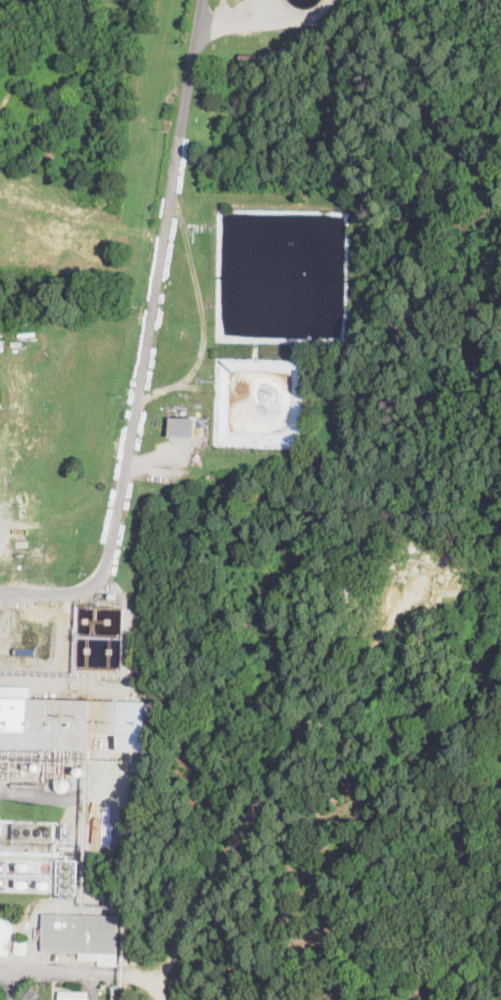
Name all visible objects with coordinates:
road: (147, 341)
building: (183, 427)
building: (51, 722)
building: (89, 754)
building: (34, 831)
building: (67, 879)
building: (81, 933)
building: (25, 945)
building: (3, 949)
building: (50, 955)
road: (44, 972)
building: (30, 994)
building: (73, 995)

